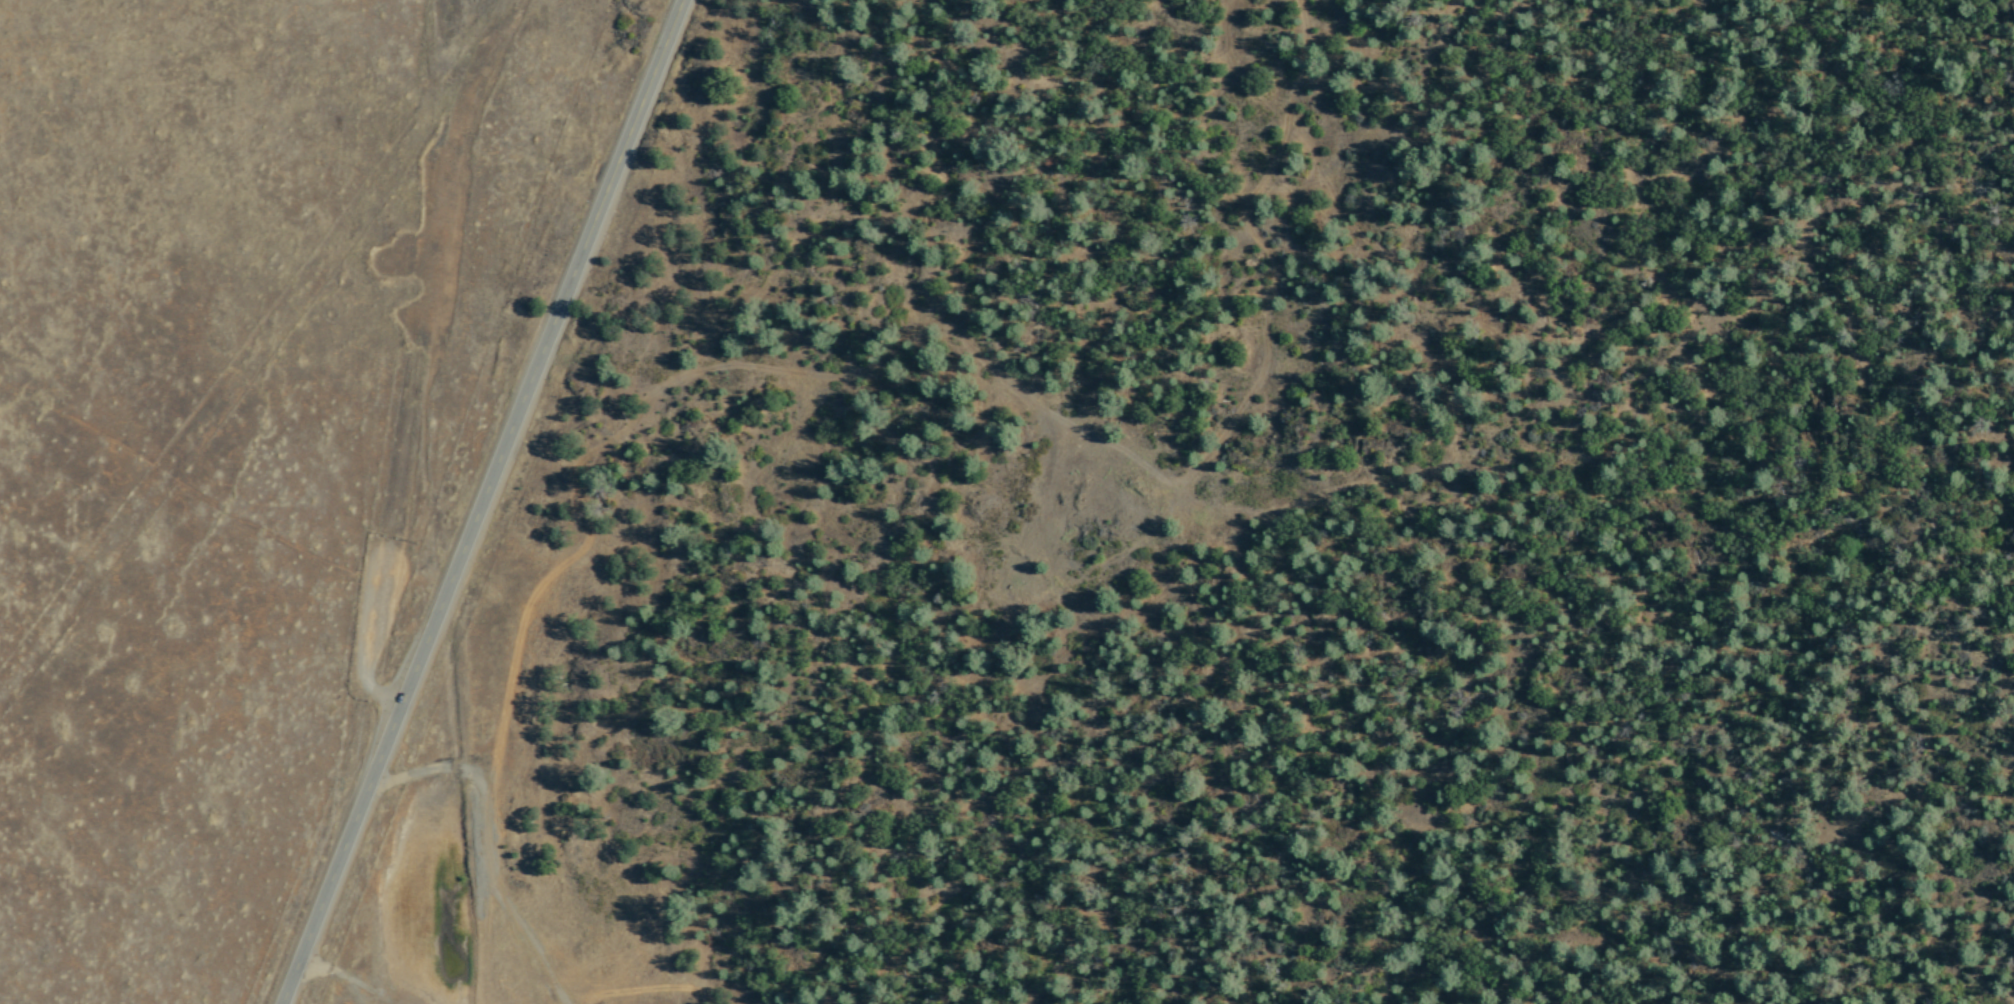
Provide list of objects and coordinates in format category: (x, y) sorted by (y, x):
road: (478, 502)
road: (214, 507)
parking lot: (379, 598)
road: (365, 641)

